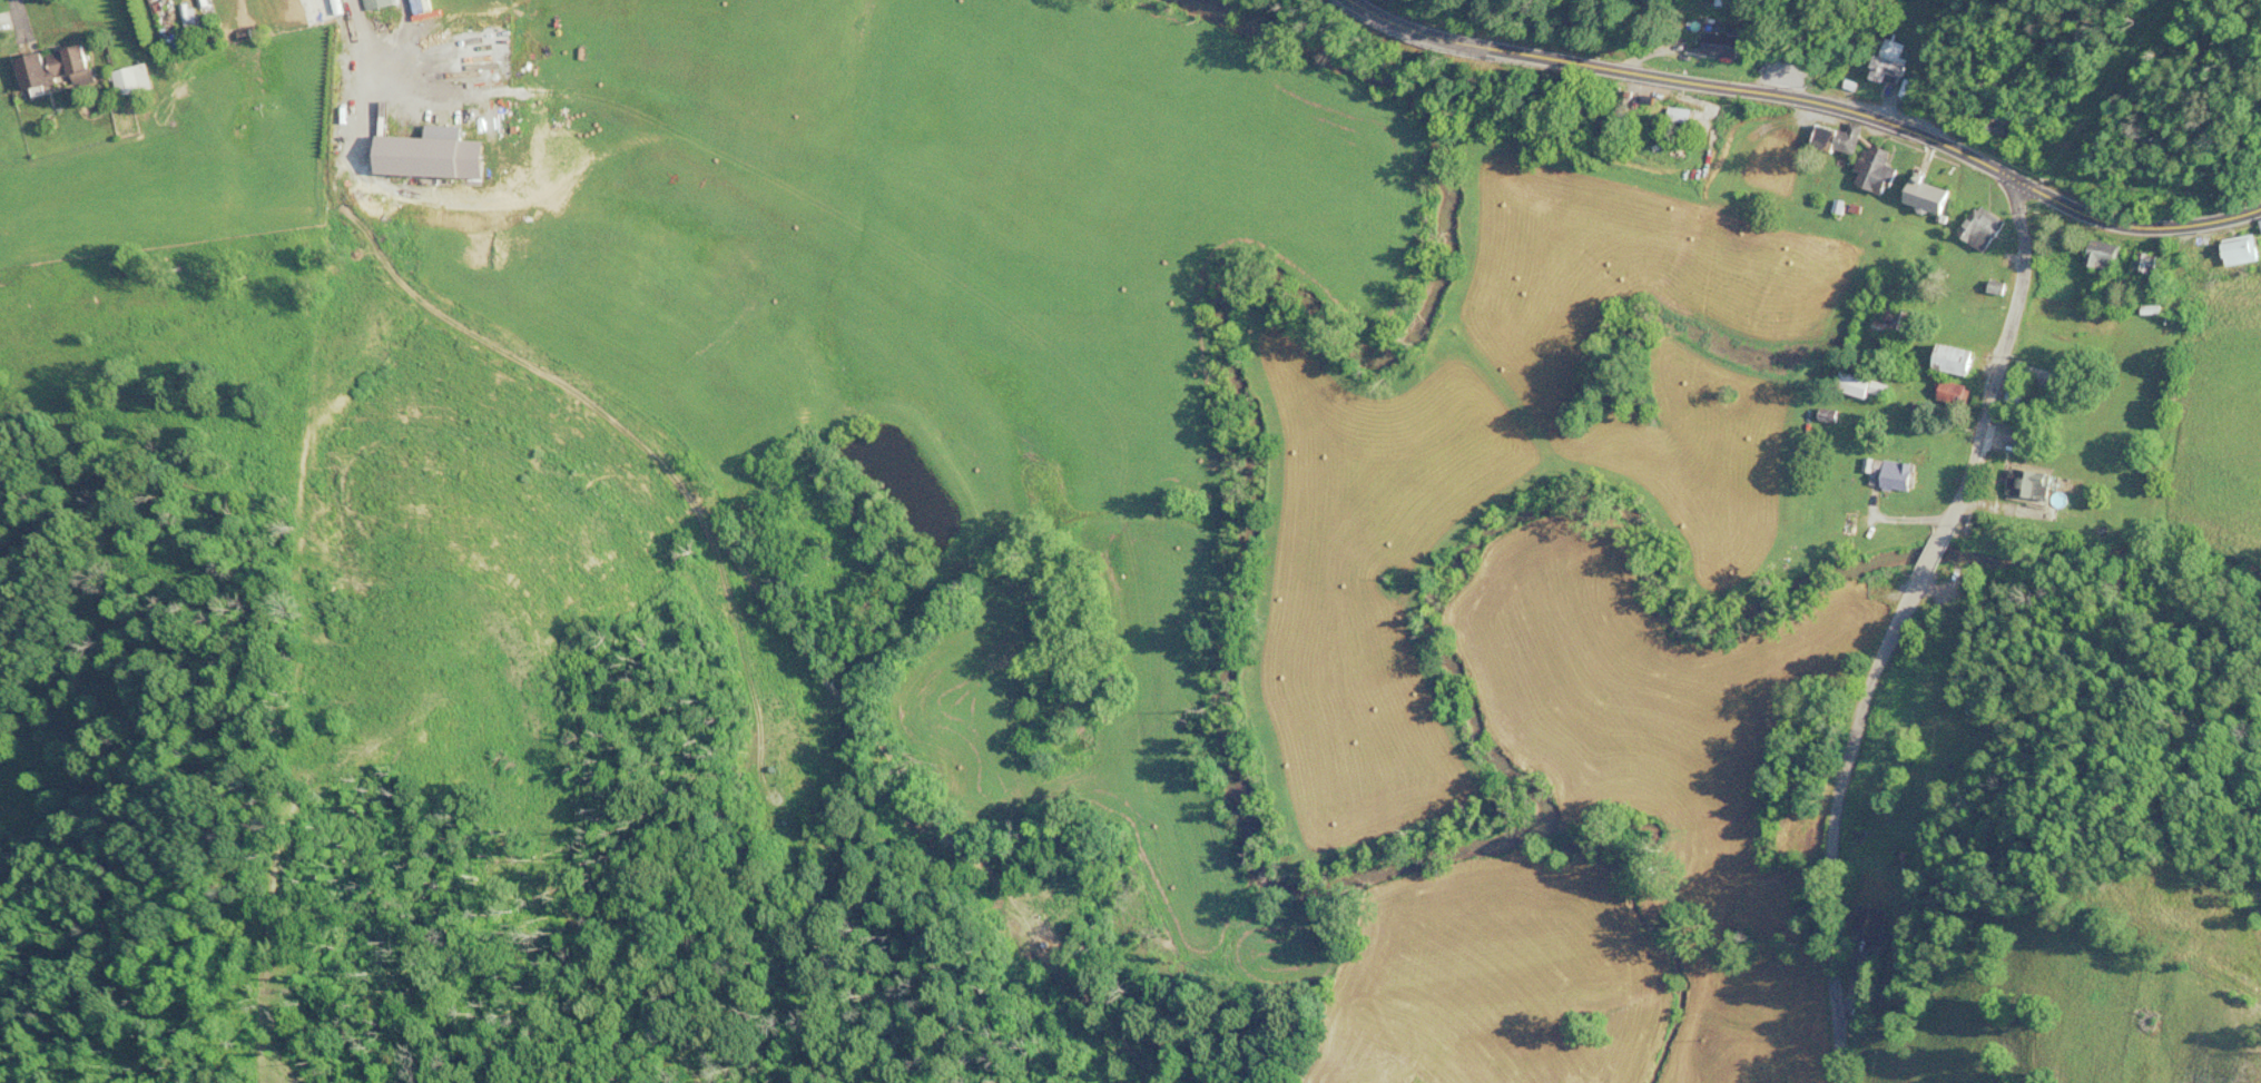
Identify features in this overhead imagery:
building: (377, 4)
building: (1723, 45)
building: (1890, 63)
building: (58, 69)
road: (1684, 80)
building: (134, 81)
building: (1837, 140)
building: (1876, 171)
building: (1928, 196)
building: (2260, 224)
road: (2134, 226)
building: (1982, 229)
building: (2243, 250)
building: (2104, 256)
building: (2146, 265)
building: (1890, 322)
river: (1220, 351)
building: (1956, 361)
road: (1998, 361)
building: (2035, 374)
building: (1949, 393)
building: (2013, 398)
building: (2032, 444)
building: (2029, 485)
road: (1930, 555)
river: (1659, 611)
road: (1830, 820)
building: (1869, 924)

